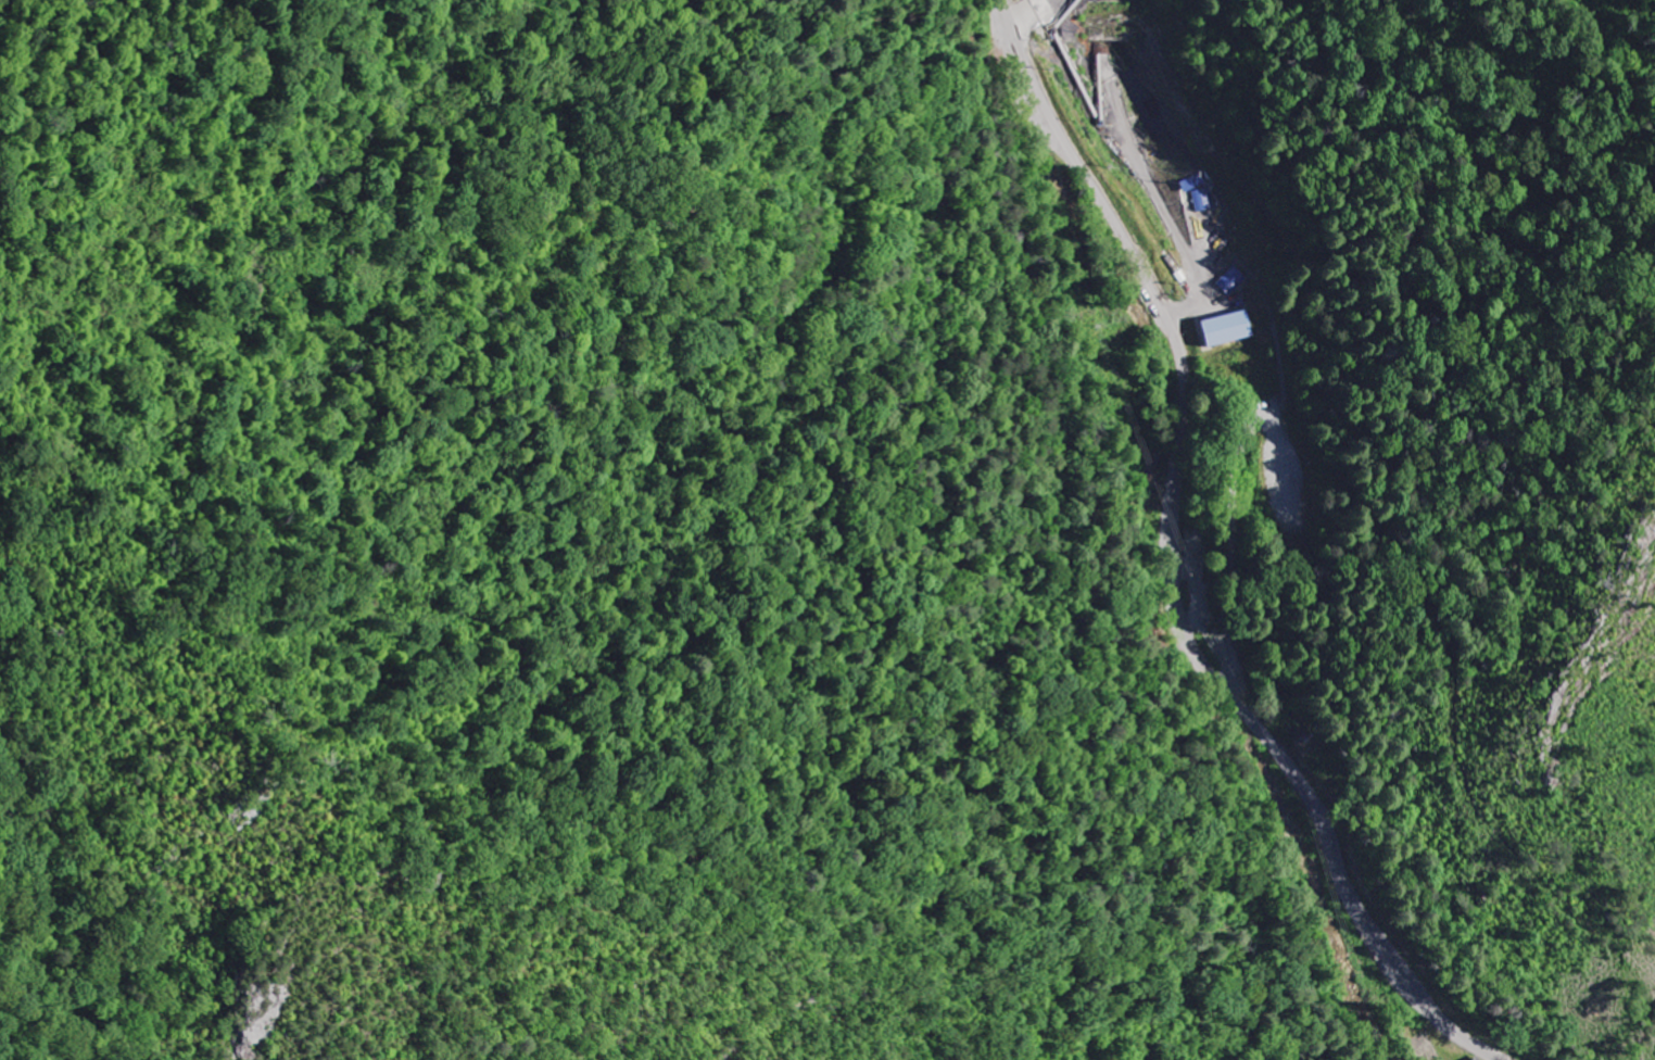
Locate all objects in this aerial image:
building: (1203, 200)
building: (1230, 281)
building: (1223, 329)
road: (1177, 561)
road: (1230, 579)
building: (1477, 1058)
building: (1473, 1059)

